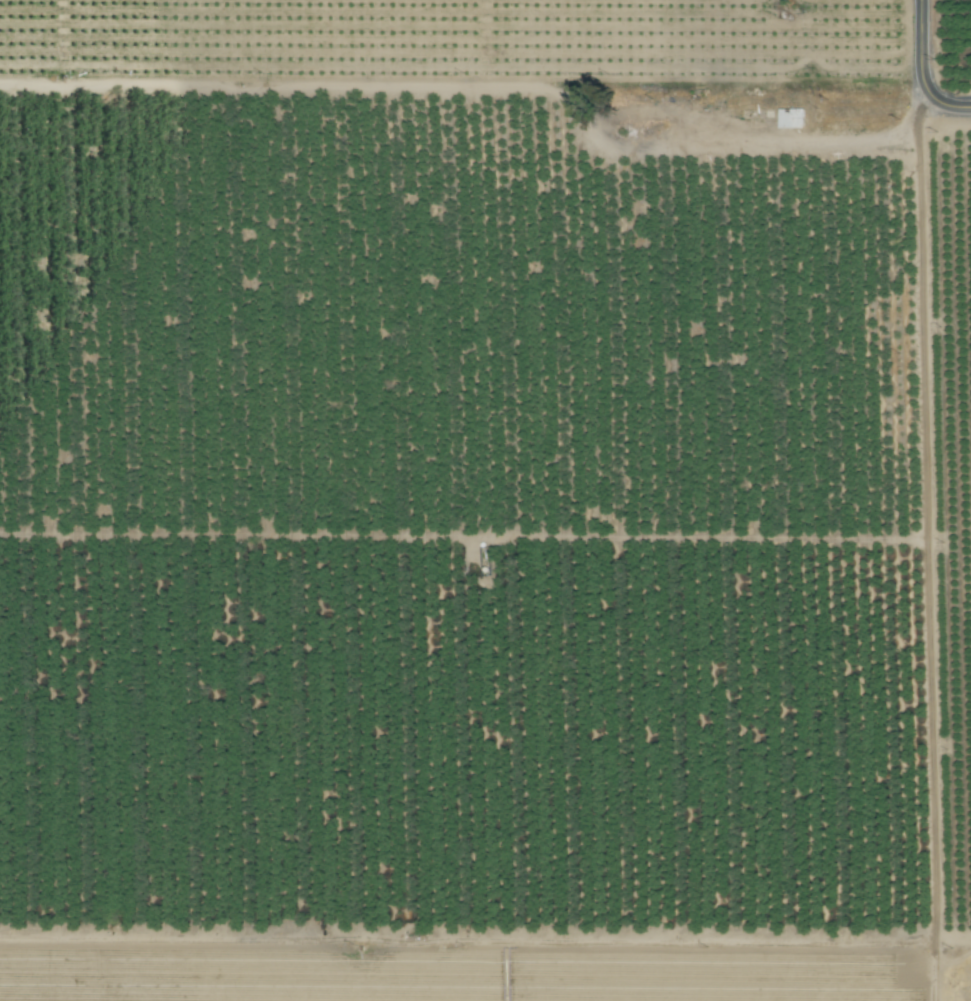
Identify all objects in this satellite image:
road: (462, 89)
road: (946, 104)
building: (790, 119)
building: (828, 119)
road: (722, 146)
road: (926, 500)

